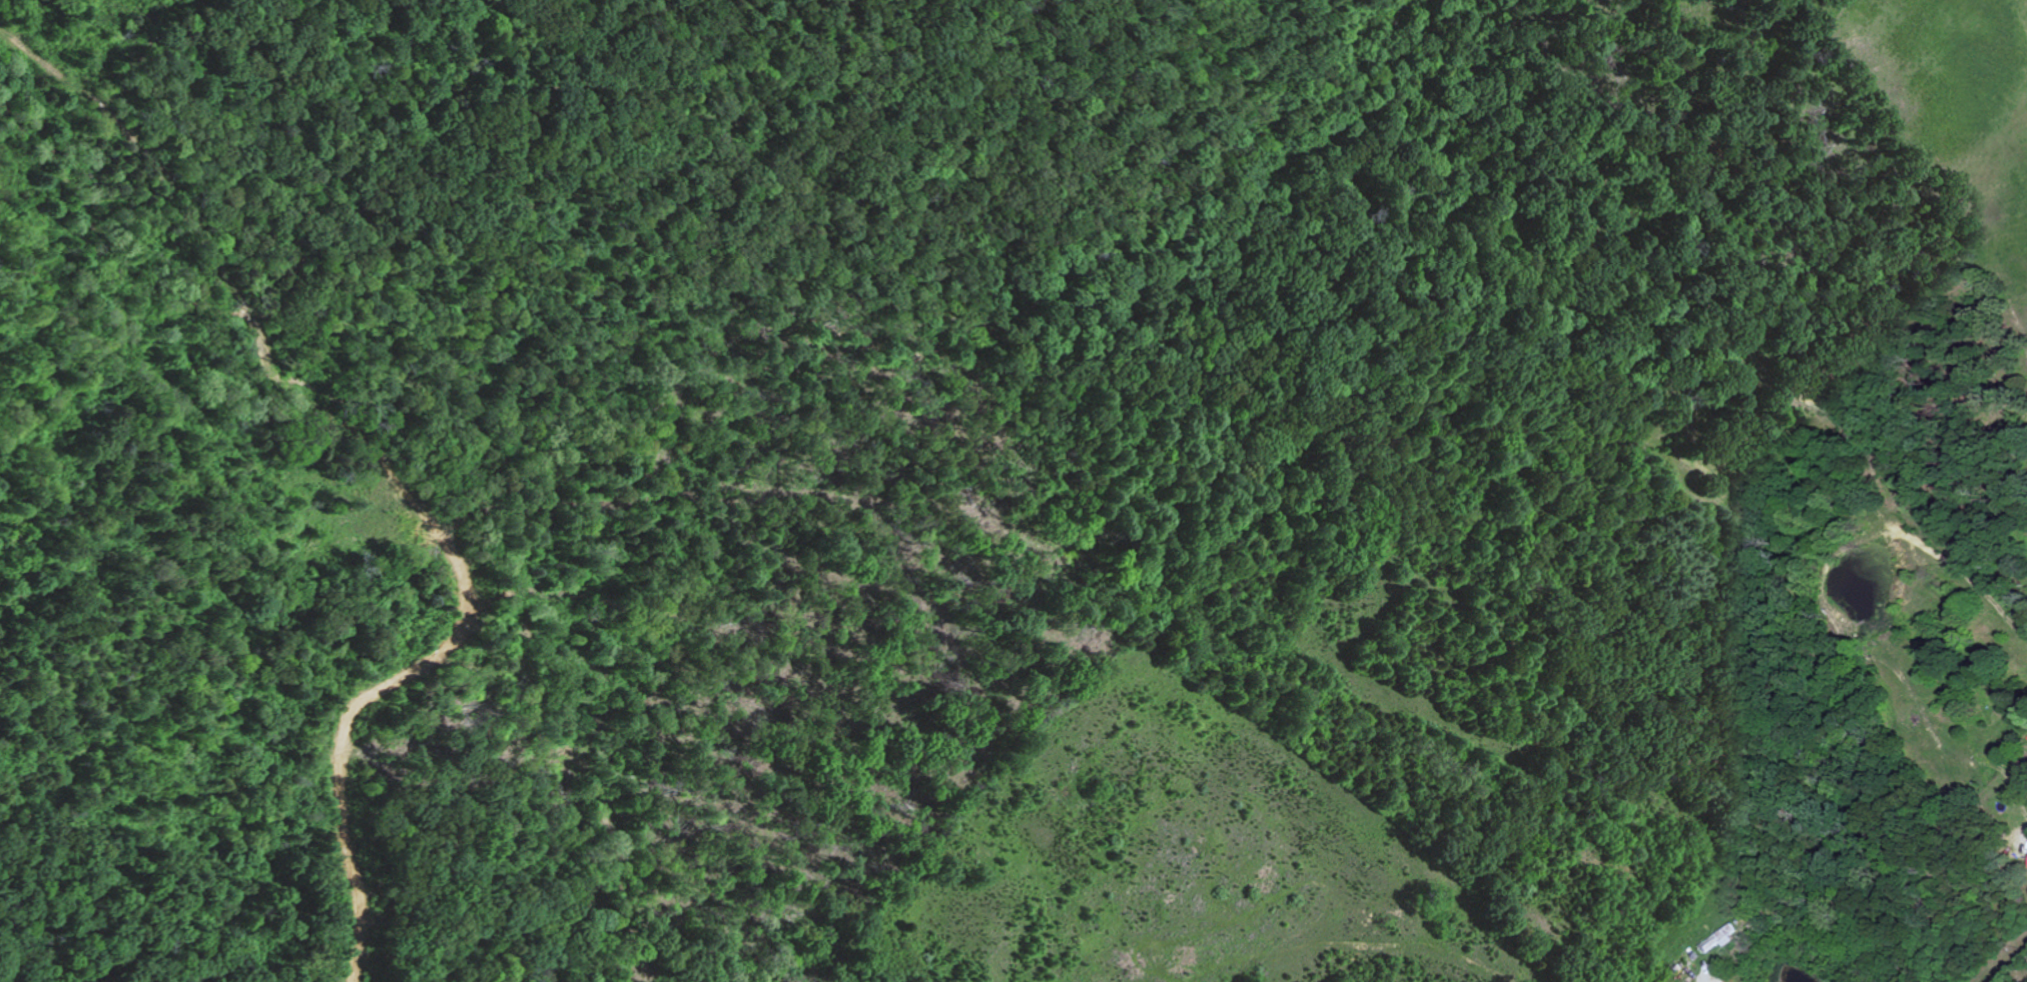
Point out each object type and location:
building: (1722, 939)

